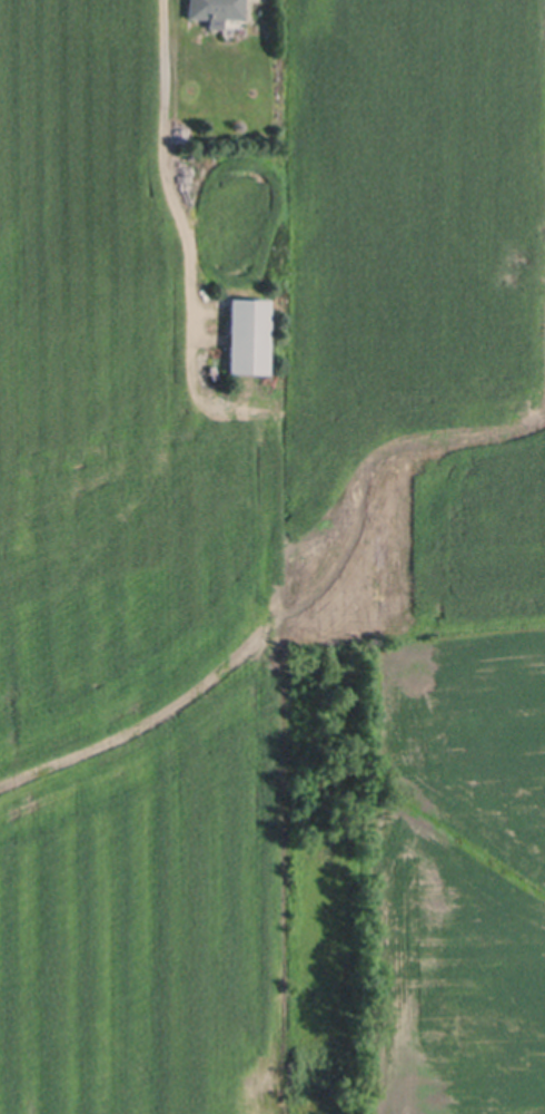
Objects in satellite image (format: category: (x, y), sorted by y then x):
building: (211, 11)
building: (245, 338)
crop: (238, 510)

